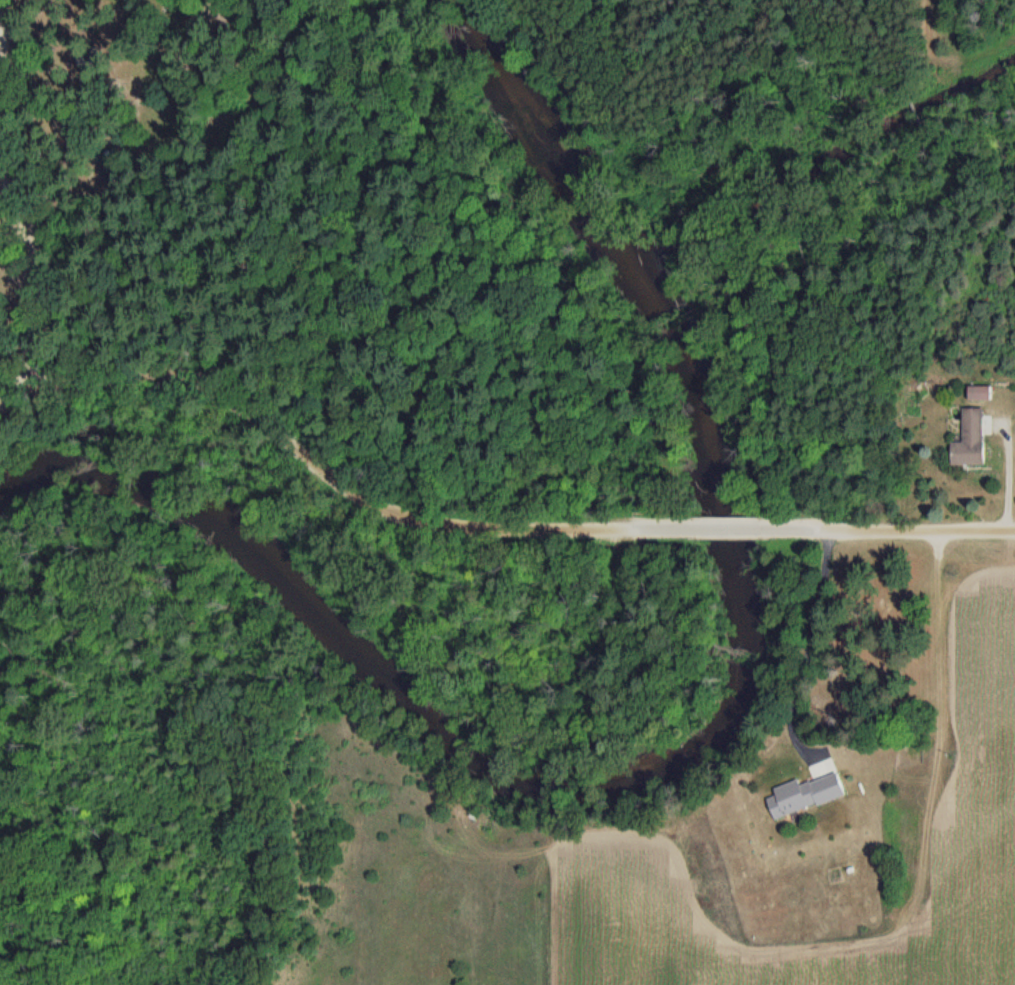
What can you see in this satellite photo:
building: (90, 58)
road: (888, 101)
road: (908, 113)
road: (930, 123)
building: (114, 166)
road: (13, 192)
road: (184, 216)
park: (459, 262)
building: (971, 439)
road: (308, 463)
river: (25, 472)
road: (817, 503)
road: (730, 527)
road: (791, 527)
road: (666, 528)
road: (917, 528)
river: (390, 576)
park: (870, 643)
road: (808, 647)
river: (718, 722)
building: (805, 791)

